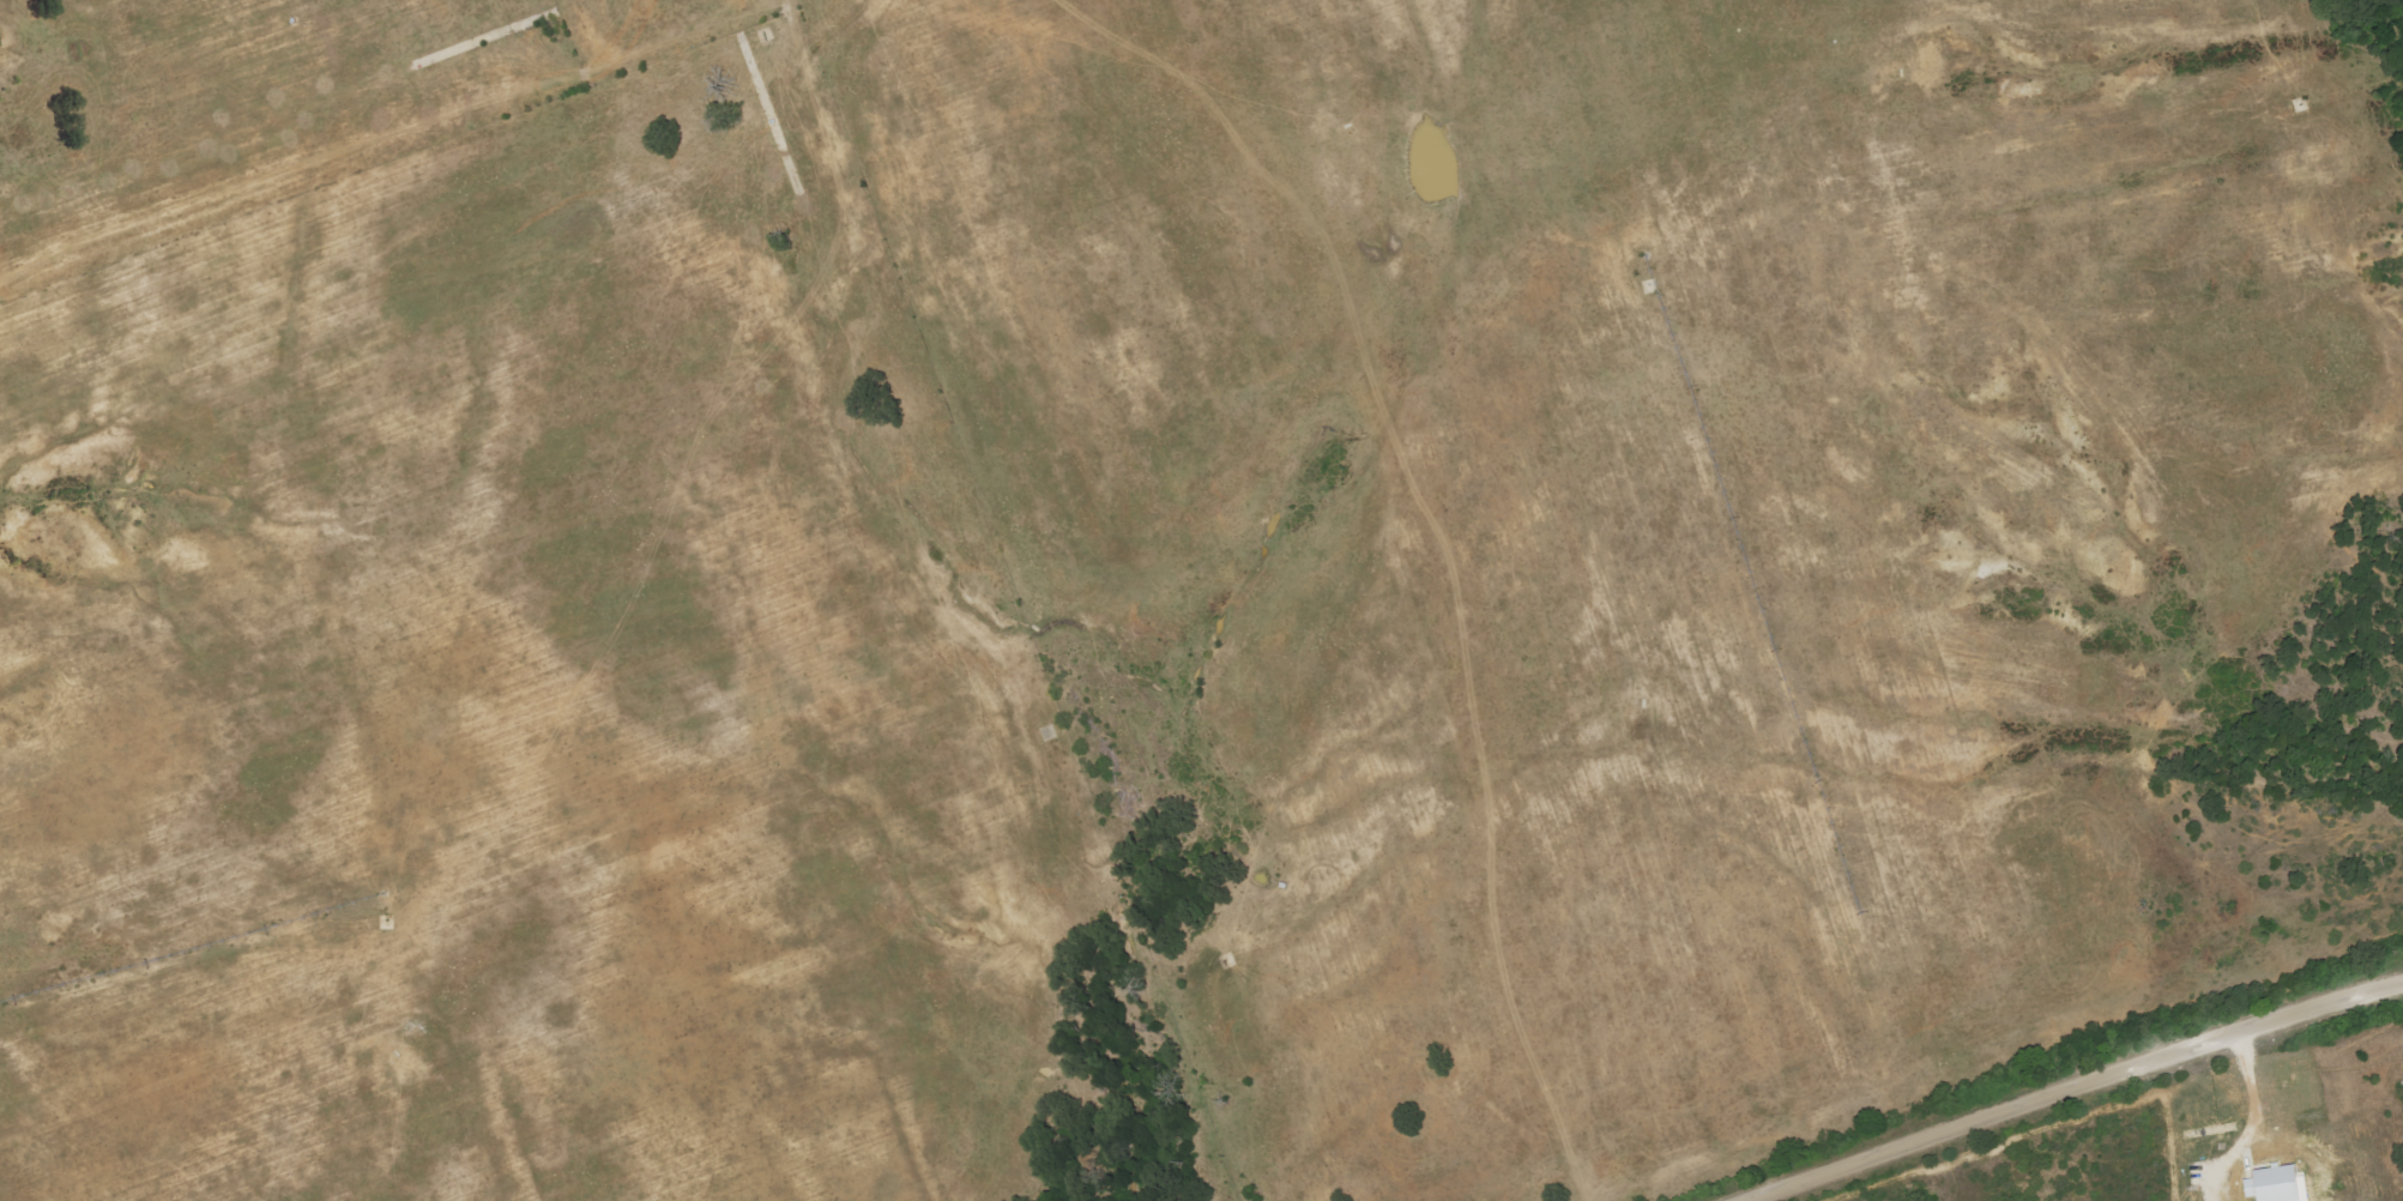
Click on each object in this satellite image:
road: (2076, 1085)
road: (2256, 1122)

